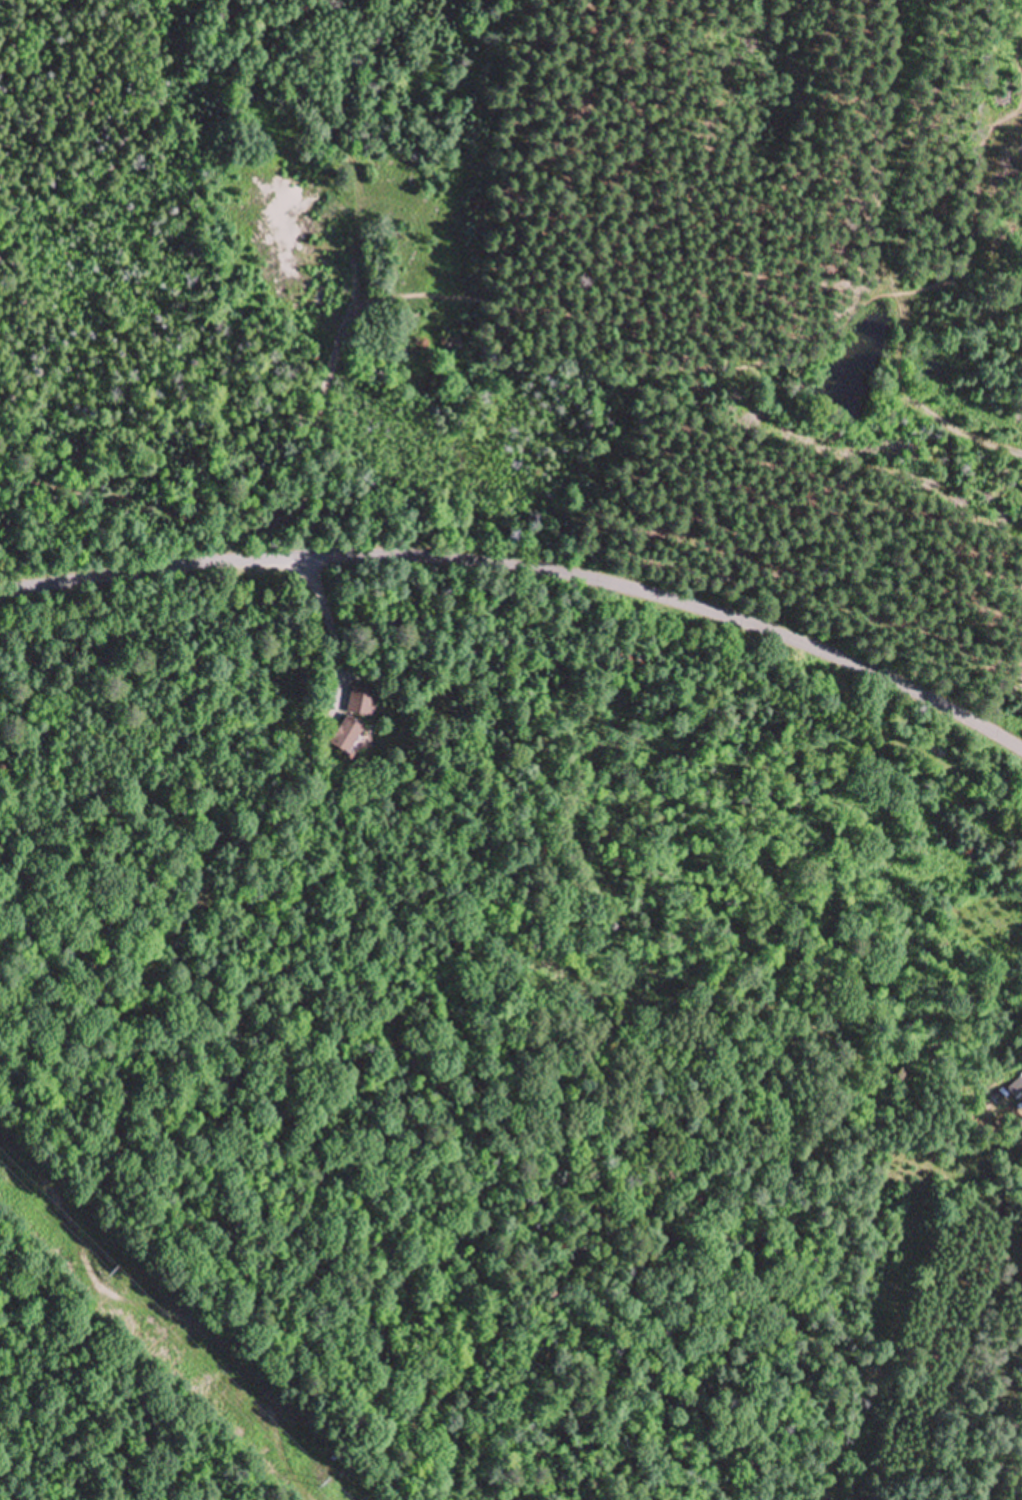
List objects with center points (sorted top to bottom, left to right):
road: (528, 574)
road: (529, 624)
building: (362, 702)
building: (347, 735)
power tower: (111, 1276)
power tower: (323, 1484)

